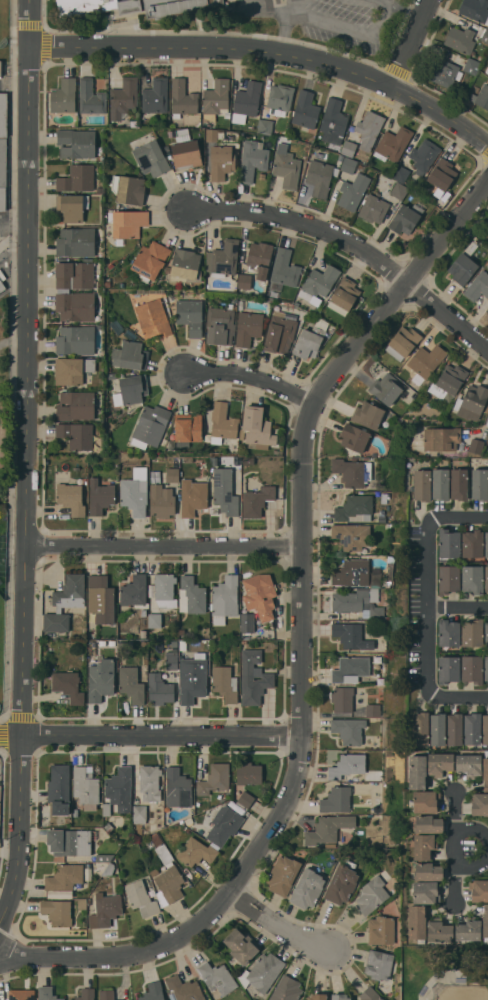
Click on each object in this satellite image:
road: (385, 2)
road: (285, 4)
building: (135, 6)
building: (475, 9)
road: (407, 10)
road: (381, 19)
road: (327, 23)
road: (281, 33)
building: (485, 35)
building: (460, 39)
road: (410, 43)
road: (269, 52)
building: (471, 65)
building: (0, 68)
building: (487, 69)
building: (445, 72)
building: (63, 95)
building: (155, 95)
building: (91, 96)
building: (481, 96)
building: (123, 97)
building: (182, 98)
building: (279, 98)
building: (216, 99)
building: (247, 100)
building: (305, 109)
building: (3, 114)
building: (333, 121)
building: (133, 123)
building: (265, 125)
building: (369, 128)
building: (214, 134)
building: (278, 138)
building: (76, 142)
building: (393, 143)
building: (348, 147)
building: (186, 151)
building: (424, 155)
building: (151, 157)
building: (222, 159)
building: (252, 159)
building: (349, 165)
building: (286, 169)
building: (3, 172)
building: (400, 173)
building: (442, 174)
building: (319, 177)
building: (77, 178)
building: (128, 188)
building: (399, 190)
building: (353, 191)
building: (71, 206)
building: (374, 206)
building: (407, 217)
building: (129, 223)
building: (487, 223)
road: (15, 228)
building: (76, 241)
road: (353, 245)
building: (223, 258)
building: (259, 258)
building: (150, 260)
building: (463, 265)
building: (184, 267)
building: (283, 270)
building: (74, 275)
building: (245, 280)
building: (108, 283)
building: (318, 283)
building: (2, 286)
building: (478, 286)
building: (344, 295)
building: (75, 305)
building: (275, 306)
building: (487, 311)
building: (190, 315)
building: (153, 318)
building: (221, 323)
building: (247, 325)
building: (116, 326)
building: (280, 332)
building: (130, 333)
building: (75, 339)
building: (310, 339)
building: (403, 341)
building: (130, 355)
building: (425, 361)
building: (72, 369)
building: (111, 375)
road: (256, 376)
building: (448, 380)
building: (386, 388)
building: (131, 389)
building: (472, 401)
building: (75, 405)
building: (371, 415)
building: (221, 423)
building: (150, 426)
building: (188, 426)
building: (256, 428)
building: (77, 434)
building: (354, 437)
building: (441, 438)
building: (476, 446)
building: (187, 459)
building: (128, 460)
road: (27, 466)
building: (352, 471)
building: (172, 474)
building: (85, 480)
building: (440, 483)
building: (459, 483)
building: (480, 483)
building: (422, 484)
building: (135, 492)
building: (100, 496)
building: (193, 496)
building: (225, 496)
building: (71, 498)
building: (161, 500)
building: (256, 500)
building: (355, 508)
road: (458, 520)
building: (351, 535)
building: (449, 542)
building: (472, 543)
building: (486, 544)
road: (165, 545)
building: (376, 570)
building: (352, 572)
building: (486, 577)
building: (449, 578)
building: (472, 578)
building: (134, 590)
building: (164, 590)
building: (260, 594)
building: (191, 595)
building: (100, 598)
building: (225, 598)
building: (358, 601)
building: (65, 602)
road: (429, 606)
road: (449, 606)
building: (154, 620)
building: (247, 622)
building: (449, 632)
building: (472, 632)
building: (486, 633)
building: (236, 635)
building: (350, 635)
building: (101, 642)
building: (111, 642)
road: (303, 643)
building: (183, 644)
building: (171, 660)
building: (486, 667)
building: (472, 668)
building: (351, 669)
building: (448, 669)
building: (253, 677)
building: (192, 678)
building: (101, 679)
building: (225, 683)
building: (131, 684)
building: (68, 685)
building: (159, 689)
road: (458, 693)
building: (342, 698)
building: (373, 710)
building: (421, 727)
building: (472, 728)
building: (348, 729)
building: (438, 729)
building: (455, 729)
building: (485, 729)
road: (151, 736)
building: (440, 763)
building: (469, 764)
building: (347, 766)
building: (485, 770)
building: (417, 771)
building: (248, 772)
building: (214, 778)
building: (150, 782)
building: (85, 785)
building: (178, 787)
building: (120, 788)
building: (59, 789)
building: (245, 799)
building: (336, 799)
building: (426, 800)
building: (479, 803)
building: (106, 808)
building: (75, 812)
building: (139, 814)
building: (188, 820)
building: (429, 823)
building: (224, 824)
building: (108, 827)
building: (328, 828)
building: (154, 836)
building: (70, 841)
building: (158, 841)
building: (423, 845)
road: (472, 845)
road: (456, 850)
building: (196, 851)
building: (103, 857)
building: (108, 869)
building: (154, 871)
building: (429, 871)
building: (283, 874)
building: (65, 876)
building: (168, 877)
building: (342, 882)
building: (307, 888)
building: (479, 889)
building: (373, 892)
building: (426, 892)
building: (141, 898)
building: (82, 904)
building: (105, 909)
building: (57, 911)
building: (417, 922)
building: (485, 923)
road: (279, 925)
building: (381, 929)
building: (468, 929)
building: (439, 930)
building: (241, 945)
building: (378, 964)
building: (262, 972)
building: (217, 977)
building: (185, 988)
building: (286, 989)
building: (153, 991)
building: (47, 993)
building: (22, 994)
building: (85, 994)
building: (107, 994)
building: (370, 994)
building: (317, 996)
building: (339, 996)
building: (166, 999)

